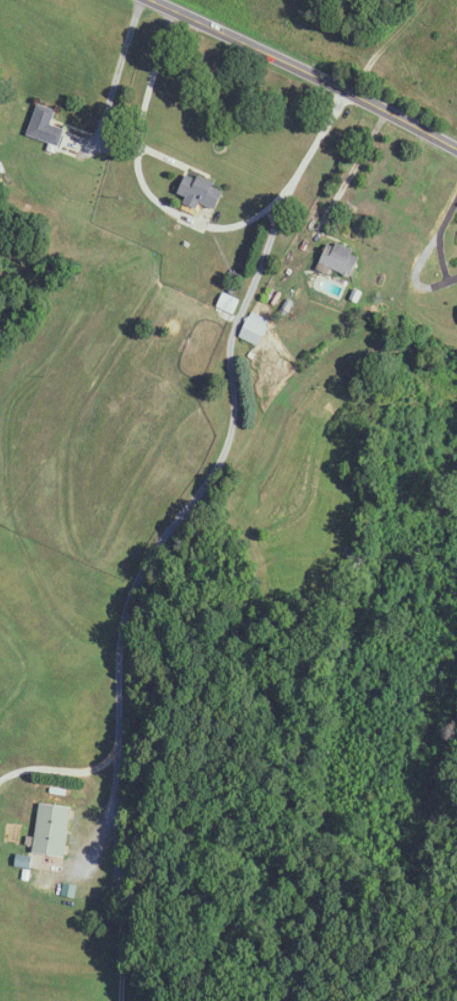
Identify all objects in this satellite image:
road: (306, 71)
building: (46, 127)
road: (108, 148)
road: (354, 169)
building: (203, 192)
road: (189, 219)
road: (439, 234)
building: (340, 260)
building: (229, 305)
building: (256, 330)
road: (200, 488)
road: (59, 764)
building: (53, 830)
road: (125, 950)

